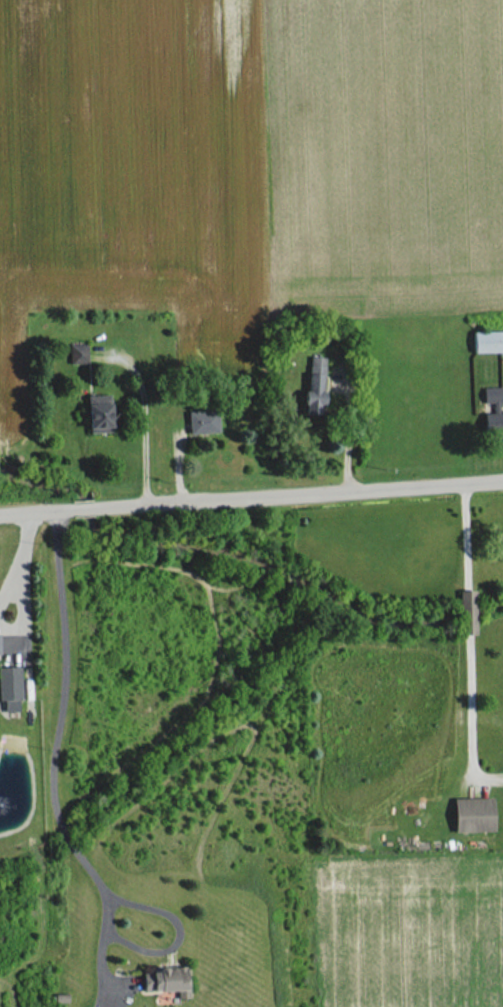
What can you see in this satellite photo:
crop: (376, 159)
crop: (126, 167)
building: (487, 342)
building: (100, 416)
road: (145, 420)
building: (202, 422)
road: (347, 428)
road: (251, 497)
road: (32, 531)
road: (466, 536)
road: (466, 611)
road: (15, 635)
building: (9, 684)
road: (68, 711)
road: (470, 716)
building: (473, 815)
road: (185, 931)
crop: (412, 933)
road: (109, 954)
road: (133, 981)
building: (166, 981)

